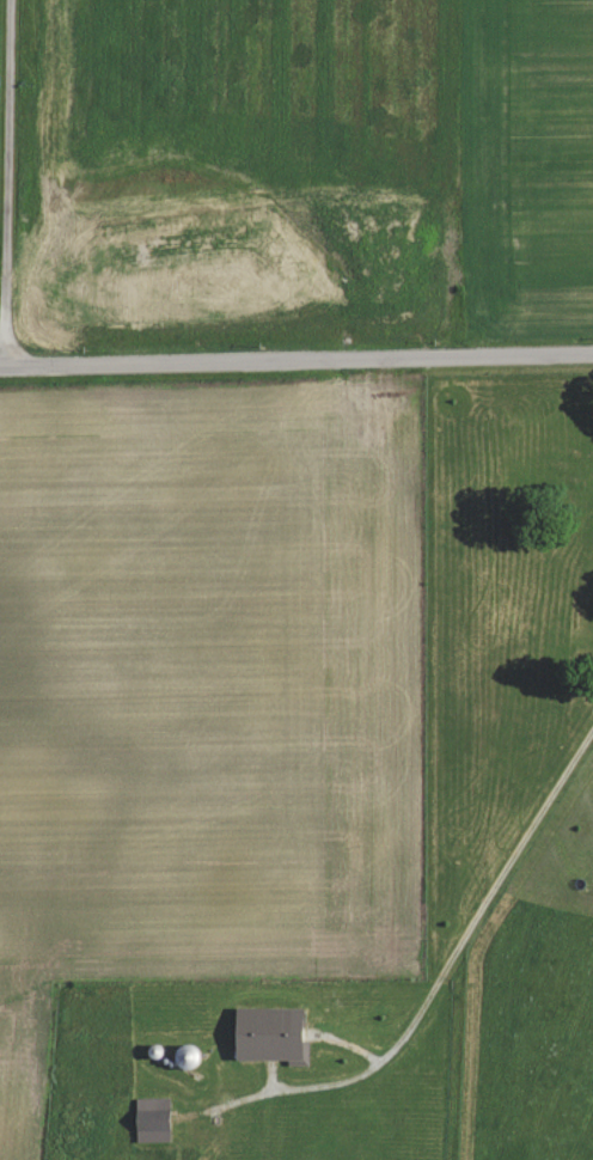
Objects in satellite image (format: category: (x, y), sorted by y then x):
road: (10, 171)
road: (295, 342)
road: (453, 958)
building: (269, 1034)
building: (152, 1119)

